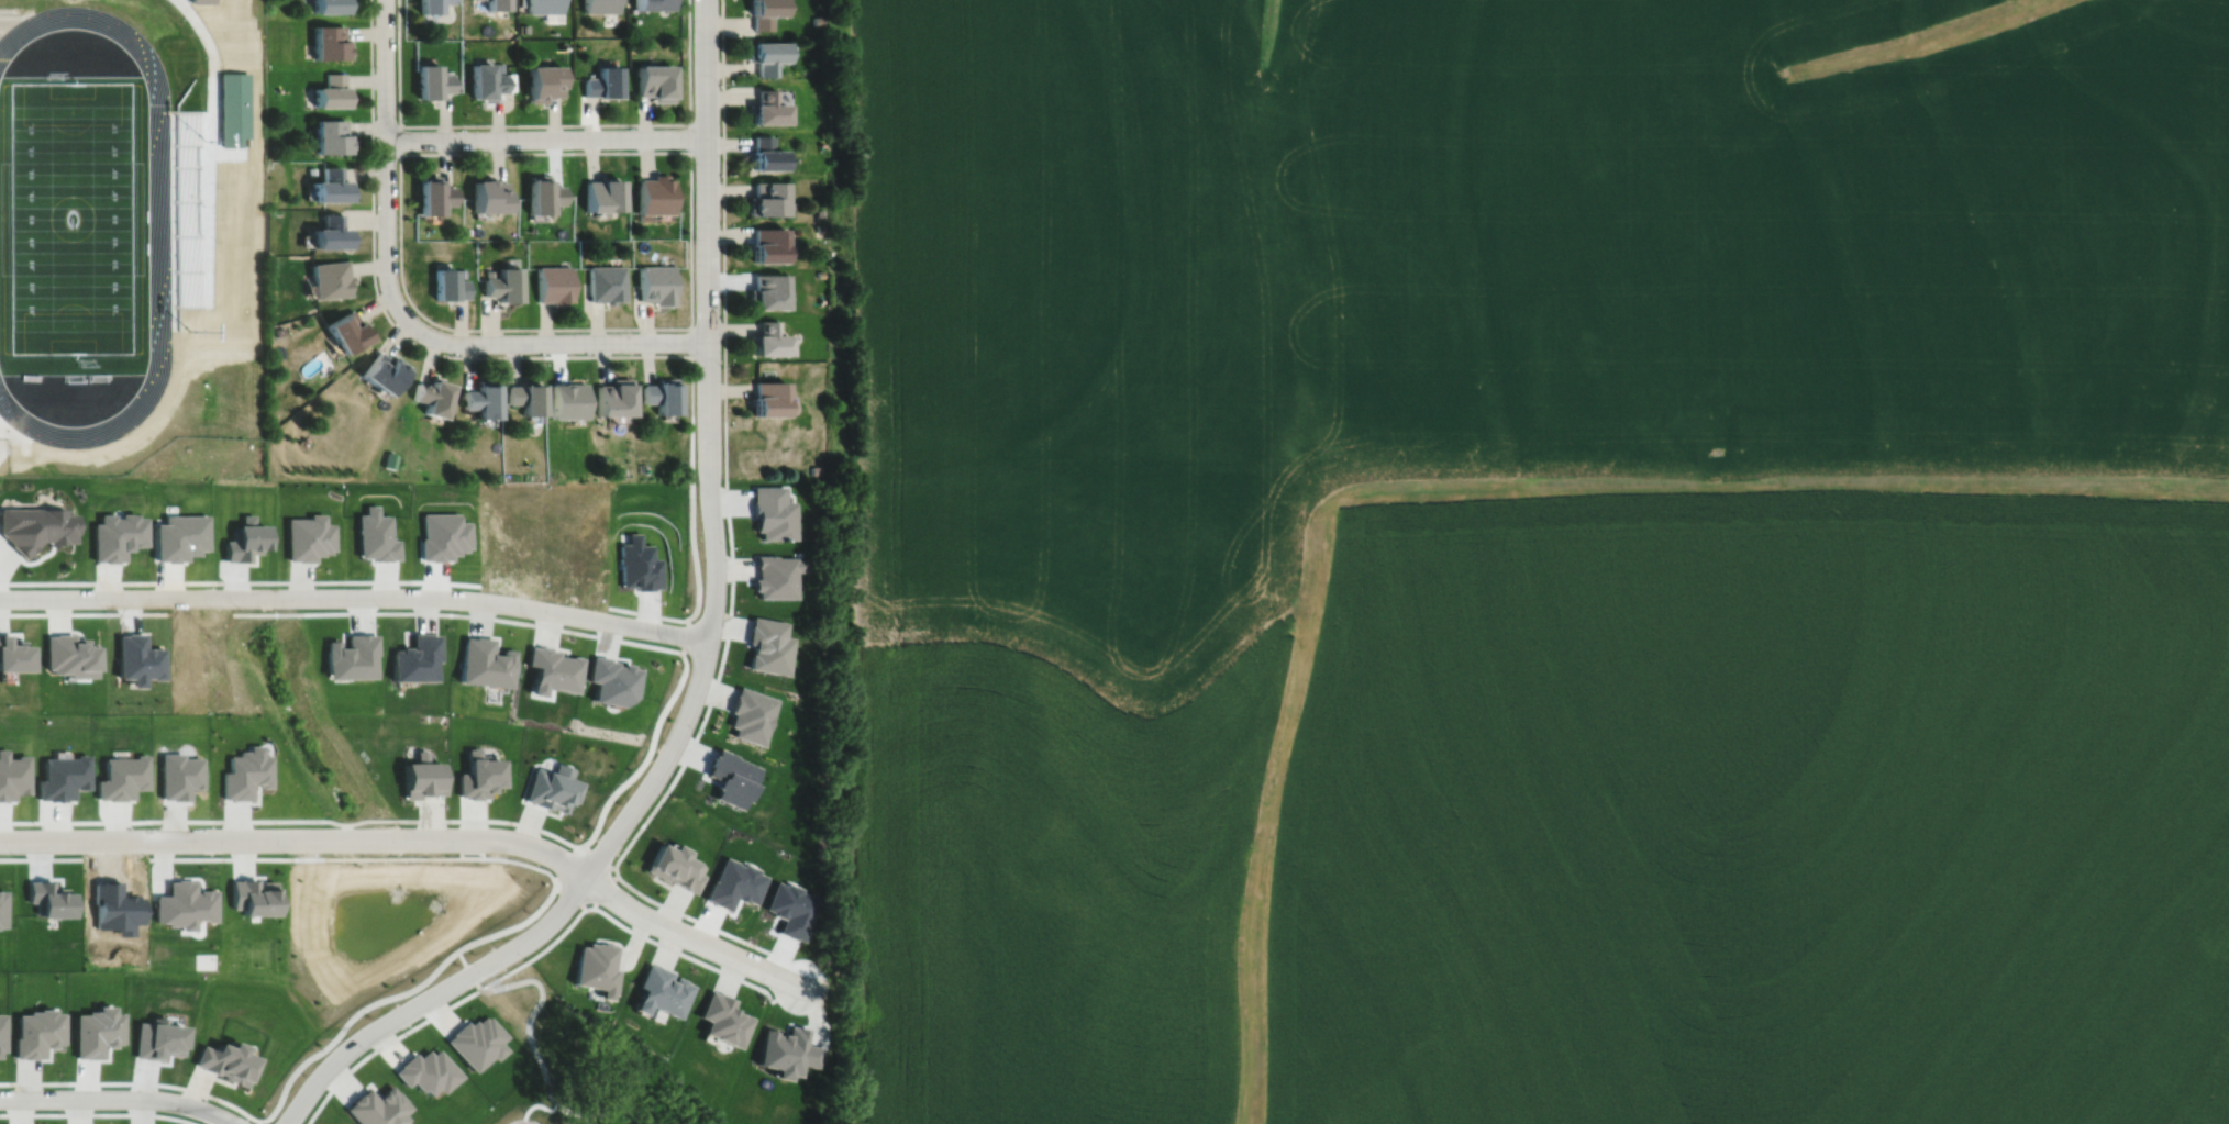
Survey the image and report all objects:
building: (202, 1)
building: (652, 4)
building: (432, 5)
building: (497, 5)
building: (330, 7)
building: (544, 7)
building: (600, 7)
building: (763, 13)
building: (818, 20)
building: (523, 27)
building: (330, 43)
building: (765, 57)
building: (498, 67)
building: (432, 82)
building: (486, 82)
building: (544, 82)
building: (656, 82)
building: (603, 84)
building: (331, 92)
building: (766, 105)
road: (543, 124)
building: (328, 134)
road: (689, 136)
road: (546, 137)
road: (400, 138)
building: (765, 152)
road: (386, 164)
building: (310, 169)
building: (328, 183)
building: (601, 191)
building: (488, 192)
building: (541, 192)
building: (654, 192)
building: (431, 193)
building: (765, 196)
building: (818, 212)
building: (643, 215)
park: (71, 216)
building: (819, 226)
building: (328, 230)
track: (159, 232)
building: (767, 243)
crop: (1541, 245)
building: (270, 259)
building: (461, 271)
building: (820, 272)
building: (326, 277)
building: (606, 281)
building: (446, 282)
building: (501, 282)
building: (554, 282)
building: (656, 282)
building: (766, 290)
road: (691, 313)
building: (344, 330)
building: (278, 331)
road: (724, 336)
building: (768, 337)
road: (691, 341)
road: (556, 342)
road: (662, 355)
building: (380, 370)
building: (659, 393)
building: (429, 394)
building: (524, 396)
building: (613, 396)
building: (479, 397)
building: (767, 397)
building: (567, 399)
road: (708, 455)
building: (387, 459)
building: (621, 469)
building: (814, 469)
building: (772, 512)
building: (35, 526)
building: (117, 535)
building: (179, 536)
building: (307, 537)
building: (775, 576)
road: (356, 596)
road: (342, 612)
building: (768, 645)
building: (11, 654)
building: (352, 655)
building: (67, 656)
building: (414, 659)
building: (484, 663)
building: (551, 670)
building: (611, 681)
building: (751, 715)
building: (479, 775)
building: (420, 778)
building: (551, 789)
crop: (1057, 797)
crop: (1759, 812)
road: (452, 819)
road: (162, 820)
road: (418, 837)
road: (42, 856)
road: (597, 857)
road: (616, 863)
building: (675, 866)
road: (553, 881)
road: (603, 889)
building: (253, 895)
road: (570, 895)
building: (48, 897)
building: (185, 902)
building: (1, 906)
road: (534, 955)
building: (596, 966)
building: (662, 989)
road: (432, 995)
building: (723, 1017)
road: (345, 1024)
building: (95, 1030)
building: (0, 1031)
building: (37, 1031)
building: (157, 1037)
building: (477, 1039)
building: (787, 1049)
building: (226, 1059)
building: (426, 1069)
road: (133, 1080)
road: (120, 1098)
building: (377, 1106)
road: (60, 1113)

